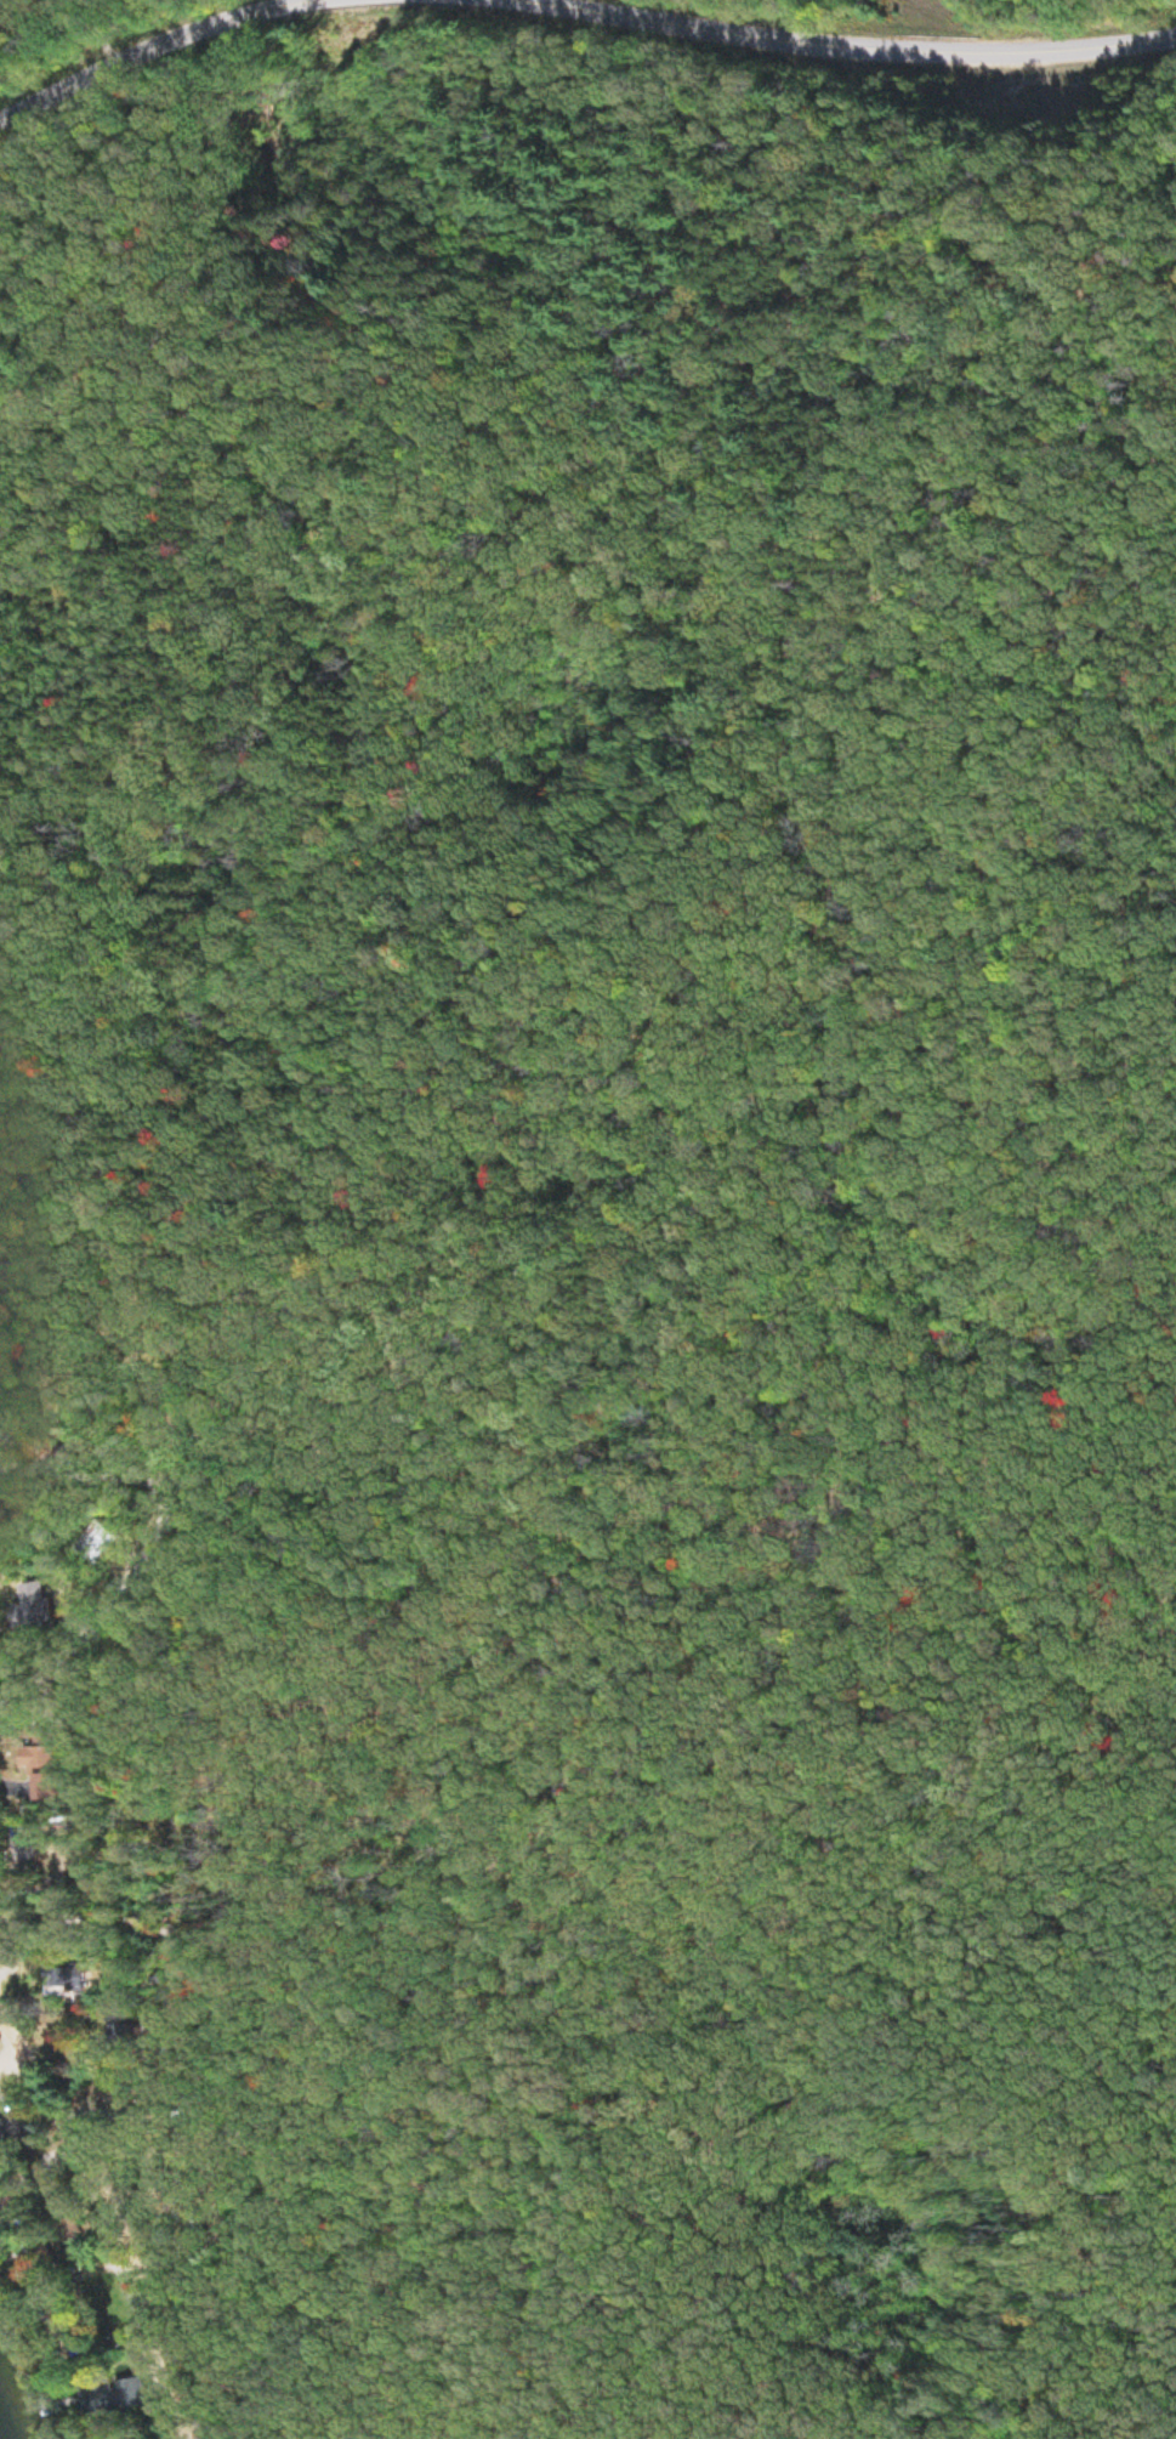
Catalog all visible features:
road: (854, 44)
road: (157, 52)
road: (154, 1549)
building: (34, 1607)
building: (75, 1979)
building: (17, 2134)
road: (113, 2194)
building: (117, 2395)

